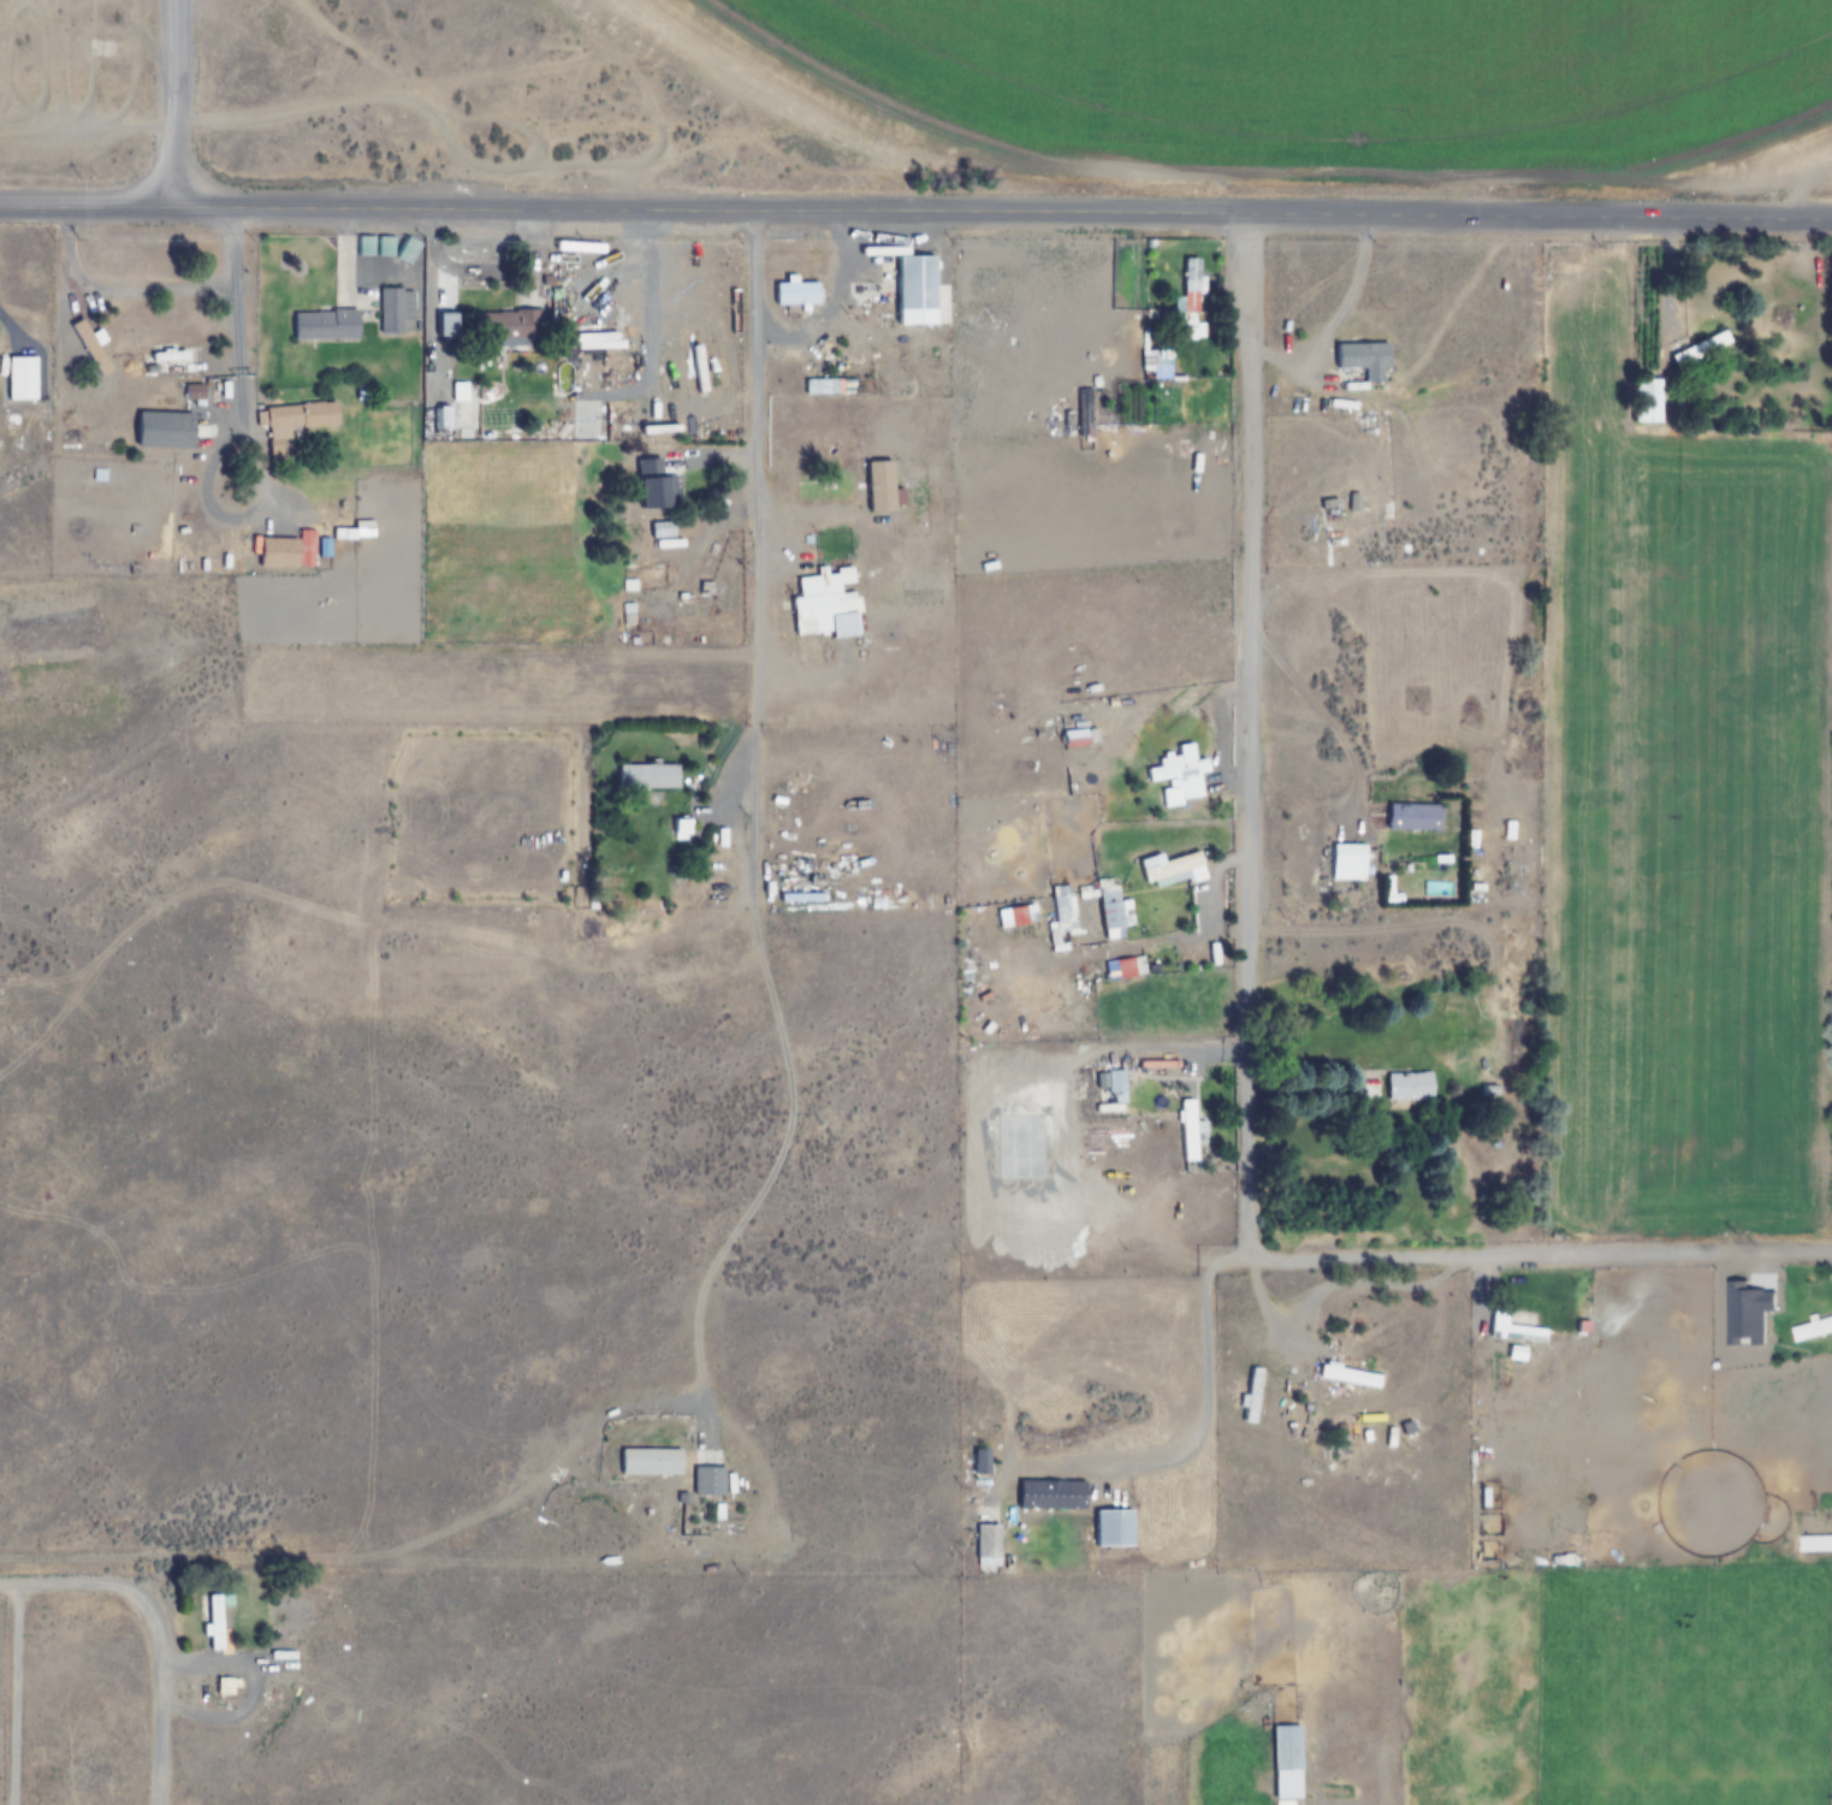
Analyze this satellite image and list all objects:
crop: (1110, 28)
road: (174, 105)
road: (88, 209)
road: (1003, 215)
building: (384, 245)
building: (1191, 284)
building: (913, 289)
building: (78, 290)
building: (795, 291)
building: (392, 307)
building: (321, 322)
building: (502, 325)
building: (1185, 327)
building: (90, 345)
building: (1701, 349)
building: (1360, 355)
building: (20, 377)
building: (190, 390)
road: (753, 392)
building: (1644, 401)
building: (458, 407)
building: (297, 414)
building: (653, 491)
building: (289, 551)
building: (824, 604)
building: (1079, 738)
road: (1249, 739)
building: (1181, 775)
building: (648, 776)
building: (1413, 817)
building: (1348, 863)
building: (1172, 870)
building: (1065, 909)
building: (1111, 912)
building: (1117, 1085)
building: (1410, 1085)
building: (1190, 1129)
road: (1540, 1255)
building: (1813, 1330)
building: (1518, 1332)
building: (1351, 1377)
building: (1252, 1395)
building: (651, 1461)
building: (980, 1461)
building: (709, 1480)
building: (1047, 1513)
building: (1113, 1527)
building: (989, 1545)
building: (220, 1621)
road: (152, 1627)
building: (1286, 1760)

